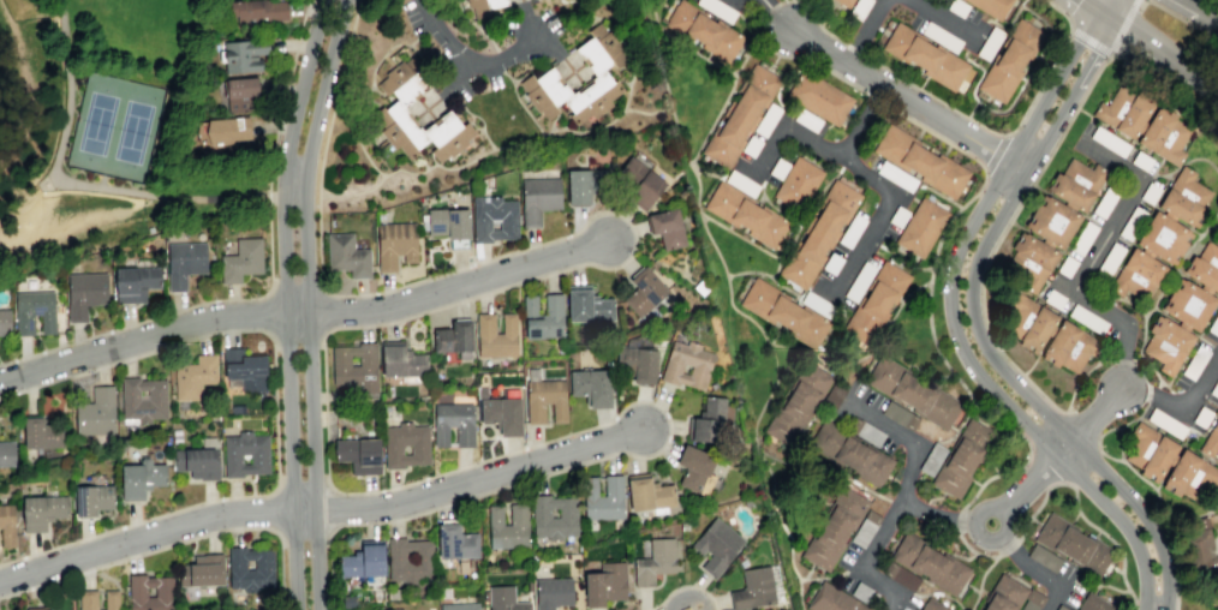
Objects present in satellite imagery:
road: (566, 0)
road: (1138, 0)
building: (844, 2)
road: (751, 4)
road: (653, 5)
building: (484, 6)
road: (771, 6)
building: (990, 6)
building: (956, 7)
building: (717, 8)
building: (858, 8)
street lamp: (1138, 10)
road: (1200, 10)
building: (255, 11)
road: (571, 11)
road: (1089, 11)
road: (1110, 11)
road: (589, 12)
road: (775, 14)
road: (813, 16)
road: (1037, 17)
road: (1177, 17)
road: (942, 19)
parking lot: (419, 22)
traffic signals: (1105, 22)
road: (474, 25)
building: (701, 28)
road: (865, 31)
road: (975, 35)
building: (941, 36)
road: (752, 43)
building: (989, 44)
building: (599, 49)
road: (855, 50)
road: (1112, 50)
road: (455, 52)
street lamp: (1082, 53)
building: (243, 54)
road: (557, 54)
building: (924, 55)
road: (802, 56)
road: (1162, 56)
road: (434, 59)
road: (498, 59)
building: (1009, 60)
road: (1092, 61)
road: (484, 62)
road: (423, 64)
building: (402, 80)
road: (299, 86)
road: (447, 90)
road: (448, 91)
building: (544, 91)
building: (240, 92)
road: (364, 95)
road: (667, 96)
road: (283, 97)
building: (819, 97)
building: (592, 98)
road: (873, 98)
road: (907, 101)
road: (520, 102)
road: (979, 102)
road: (971, 108)
road: (646, 112)
building: (1123, 112)
building: (741, 115)
road: (480, 119)
building: (766, 119)
building: (806, 120)
road: (1029, 125)
building: (226, 126)
park: (117, 128)
building: (398, 128)
park: (109, 130)
road: (790, 130)
road: (1005, 133)
building: (446, 136)
building: (1163, 136)
building: (1109, 140)
road: (324, 142)
road: (525, 143)
building: (750, 145)
road: (1148, 151)
road: (993, 152)
building: (920, 161)
building: (1141, 161)
road: (710, 167)
building: (777, 168)
road: (1026, 173)
road: (706, 174)
building: (895, 175)
road: (293, 177)
road: (71, 183)
building: (639, 183)
building: (741, 183)
building: (1077, 183)
building: (584, 184)
building: (794, 184)
road: (697, 185)
road: (879, 185)
road: (939, 195)
building: (1184, 196)
building: (538, 198)
building: (1106, 199)
road: (192, 210)
building: (745, 214)
building: (1052, 221)
building: (447, 222)
building: (480, 223)
building: (854, 227)
building: (920, 227)
road: (1213, 227)
building: (665, 228)
road: (76, 234)
building: (818, 234)
building: (1162, 237)
building: (1082, 238)
road: (996, 240)
building: (395, 244)
building: (346, 255)
building: (240, 259)
road: (903, 259)
building: (1032, 261)
road: (1177, 261)
building: (183, 262)
building: (831, 263)
building: (1065, 265)
road: (775, 267)
building: (1205, 267)
building: (1136, 275)
road: (772, 277)
building: (133, 283)
road: (294, 288)
building: (644, 289)
building: (83, 293)
building: (1053, 299)
building: (874, 300)
road: (308, 303)
road: (1094, 303)
building: (814, 304)
building: (1188, 304)
building: (587, 307)
road: (927, 309)
road: (179, 310)
building: (783, 310)
building: (32, 311)
road: (894, 311)
road: (303, 312)
road: (321, 312)
road: (269, 313)
building: (542, 316)
building: (1087, 318)
building: (4, 321)
building: (1029, 321)
building: (1182, 325)
road: (1182, 325)
building: (1213, 325)
building: (495, 335)
road: (295, 337)
building: (453, 341)
building: (1166, 343)
road: (1041, 346)
building: (1069, 346)
road: (877, 348)
road: (774, 360)
road: (1118, 360)
building: (401, 361)
building: (637, 361)
road: (1136, 361)
building: (1194, 361)
building: (698, 364)
building: (354, 366)
building: (244, 369)
road: (1154, 373)
road: (1080, 376)
building: (193, 377)
road: (1158, 384)
building: (590, 387)
building: (910, 387)
road: (1166, 388)
road: (770, 389)
building: (1214, 389)
road: (287, 391)
road: (1148, 391)
building: (543, 397)
building: (796, 399)
building: (235, 408)
building: (143, 409)
building: (95, 412)
building: (501, 413)
road: (274, 414)
building: (898, 415)
building: (1201, 417)
building: (711, 421)
road: (1091, 421)
building: (452, 423)
building: (1165, 423)
road: (1082, 425)
road: (1029, 430)
road: (1063, 430)
building: (175, 431)
building: (40, 432)
building: (867, 433)
building: (175, 439)
road: (904, 441)
building: (1211, 442)
building: (1140, 443)
building: (405, 444)
road: (1120, 444)
building: (848, 450)
building: (6, 453)
building: (358, 454)
building: (961, 458)
building: (258, 459)
building: (932, 459)
building: (1158, 459)
building: (196, 461)
building: (693, 466)
building: (139, 478)
building: (1190, 478)
road: (327, 479)
road: (1145, 480)
road: (1028, 484)
road: (301, 489)
building: (649, 495)
building: (602, 497)
building: (91, 498)
road: (332, 508)
building: (41, 510)
road: (273, 510)
road: (321, 512)
road: (1079, 514)
building: (553, 516)
road: (1074, 516)
road: (956, 520)
building: (834, 524)
building: (6, 525)
building: (508, 526)
road: (304, 530)
road: (885, 532)
road: (1095, 533)
road: (993, 538)
building: (454, 540)
road: (174, 543)
building: (1075, 544)
building: (716, 545)
road: (1011, 546)
building: (1201, 548)
road: (977, 554)
building: (423, 555)
road: (961, 557)
building: (1044, 557)
building: (362, 561)
building: (653, 561)
building: (929, 562)
road: (1116, 569)
building: (199, 570)
road: (1034, 572)
road: (828, 573)
building: (250, 578)
road: (979, 581)
building: (604, 584)
road: (1099, 584)
road: (682, 586)
building: (752, 588)
building: (163, 592)
building: (551, 592)
building: (1002, 592)
building: (503, 598)
building: (86, 599)
building: (111, 599)
building: (831, 599)
building: (1093, 603)
building: (932, 605)
building: (459, 606)

